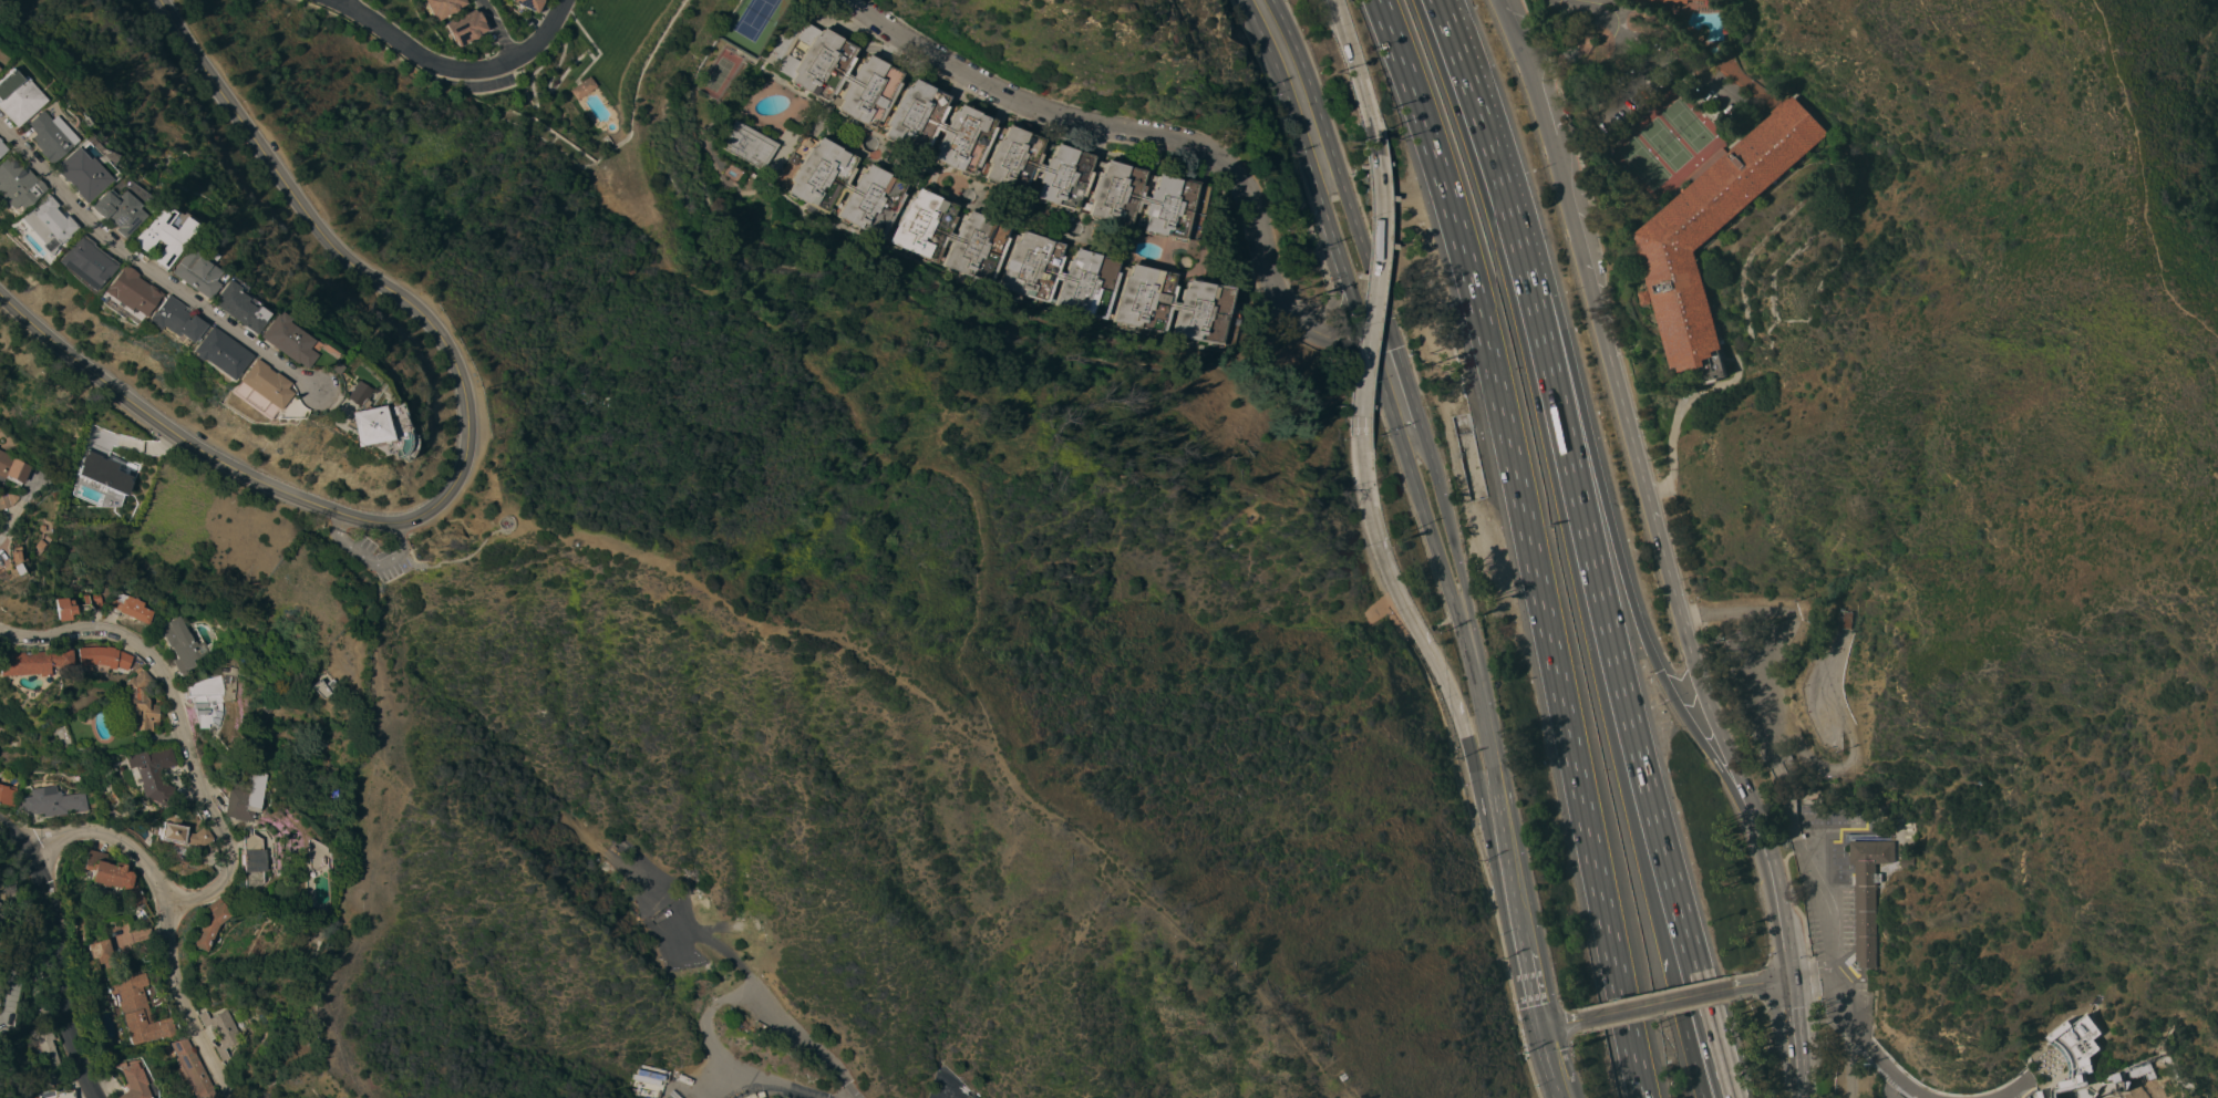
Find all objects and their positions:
road: (337, 0)
building: (1671, 0)
building: (529, 3)
building: (443, 7)
road: (1441, 14)
park: (754, 18)
road: (1620, 19)
building: (465, 27)
road: (847, 29)
road: (496, 30)
road: (1514, 46)
road: (559, 48)
road: (600, 52)
road: (1672, 61)
road: (1556, 64)
road: (456, 70)
park: (719, 74)
road: (1354, 75)
road: (1627, 80)
building: (582, 87)
building: (13, 96)
road: (1539, 115)
building: (40, 134)
road: (1151, 134)
building: (989, 142)
road: (1313, 143)
park: (1663, 143)
building: (750, 144)
road: (1149, 151)
road: (1489, 153)
building: (74, 174)
road: (2144, 176)
building: (13, 185)
road: (1562, 199)
building: (106, 208)
building: (40, 225)
building: (1714, 228)
building: (153, 235)
building: (1001, 248)
building: (79, 261)
building: (184, 273)
road: (141, 277)
building: (122, 291)
traffic signals: (1360, 292)
road: (1369, 294)
building: (1646, 296)
building: (228, 307)
building: (166, 320)
building: (276, 340)
building: (210, 353)
road: (1383, 362)
building: (324, 367)
building: (251, 390)
building: (343, 393)
road: (1684, 397)
building: (360, 426)
road: (871, 448)
road: (463, 454)
road: (1416, 457)
building: (11, 468)
road: (1596, 469)
building: (100, 472)
building: (55, 477)
road: (1661, 484)
building: (4, 499)
road: (8, 518)
road: (1438, 529)
road: (1528, 543)
building: (39, 545)
parking lot: (372, 558)
road: (367, 562)
road: (413, 563)
building: (13, 567)
road: (1669, 582)
road: (1395, 589)
building: (75, 607)
building: (131, 608)
road: (1191, 617)
road: (1445, 619)
building: (1847, 619)
building: (183, 644)
road: (1591, 655)
building: (104, 656)
building: (33, 662)
traffic signals: (1658, 672)
building: (316, 688)
road: (1621, 688)
building: (212, 695)
building: (140, 702)
road: (179, 719)
road: (964, 733)
road: (1850, 744)
road: (1493, 762)
building: (154, 776)
building: (1808, 791)
building: (7, 795)
building: (51, 801)
building: (241, 805)
road: (1788, 819)
building: (184, 835)
road: (1493, 843)
building: (317, 853)
building: (1906, 859)
building: (255, 861)
building: (113, 877)
building: (619, 884)
building: (1825, 891)
building: (1867, 892)
road: (175, 916)
building: (209, 924)
road: (1784, 934)
building: (127, 944)
road: (60, 954)
building: (97, 954)
road: (1814, 970)
traffic signals: (1791, 974)
road: (1761, 981)
road: (1534, 988)
building: (105, 999)
road: (722, 999)
road: (1654, 1003)
building: (138, 1011)
road: (1559, 1023)
traffic signals: (1541, 1027)
road: (2091, 1028)
building: (220, 1030)
road: (1797, 1035)
building: (2075, 1042)
building: (50, 1057)
road: (2066, 1058)
road: (1551, 1063)
road: (1693, 1063)
road: (1848, 1064)
building: (190, 1068)
building: (2149, 1074)
building: (651, 1079)
building: (2109, 1079)
building: (136, 1081)
building: (2059, 1083)
road: (2047, 1086)
building: (2121, 1086)
road: (2012, 1088)
road: (2023, 1088)
road: (2115, 1096)

